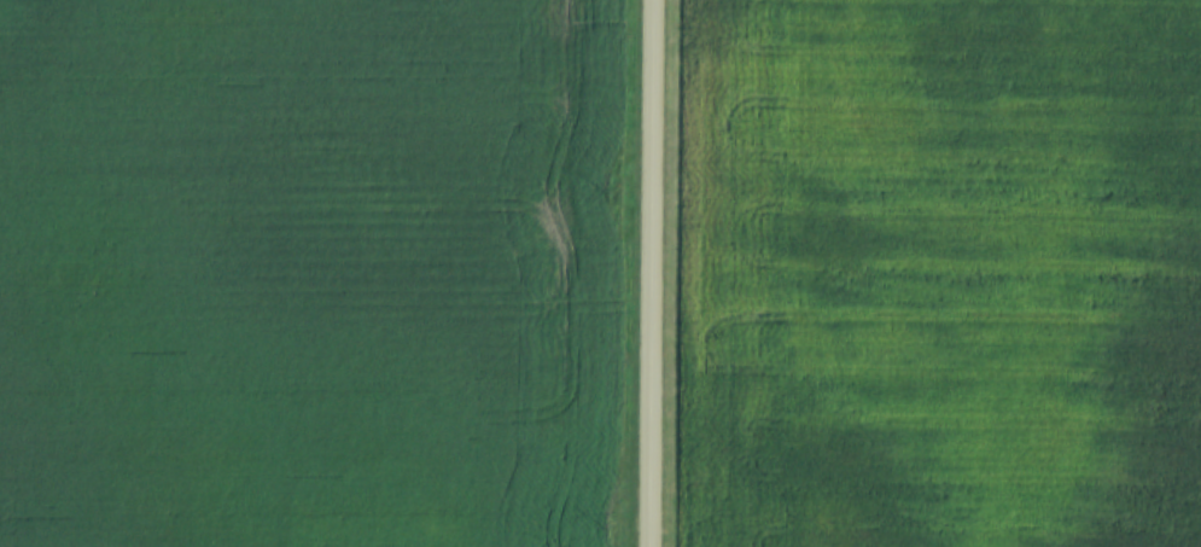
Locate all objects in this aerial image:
road: (655, 273)

